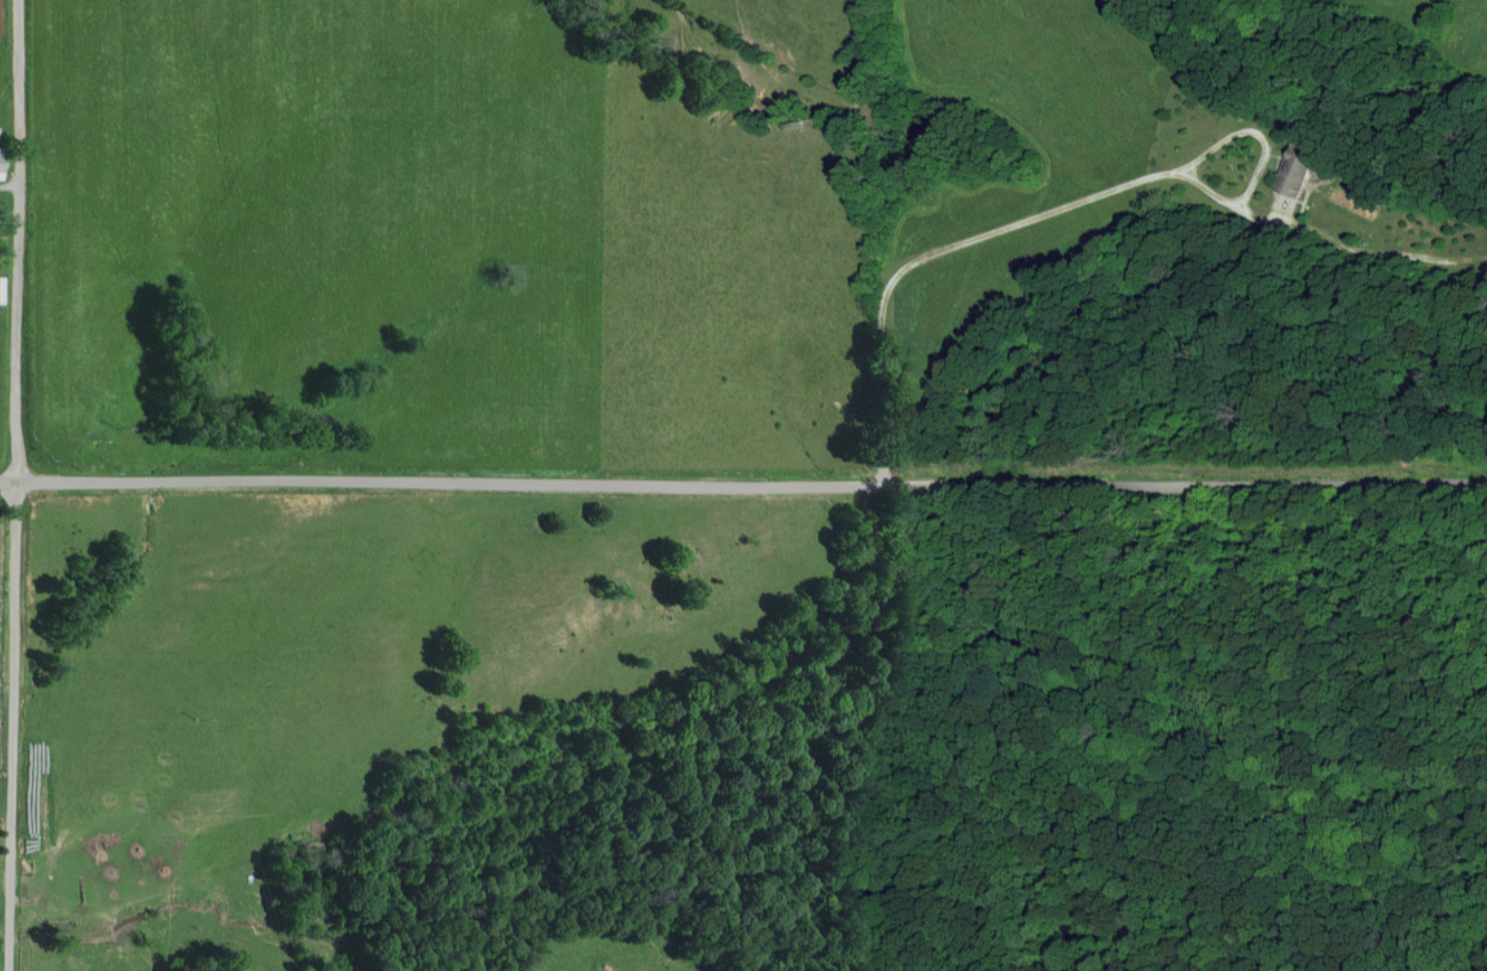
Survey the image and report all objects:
building: (1, 162)
building: (1300, 172)
building: (1, 290)
road: (14, 485)
road: (743, 486)

